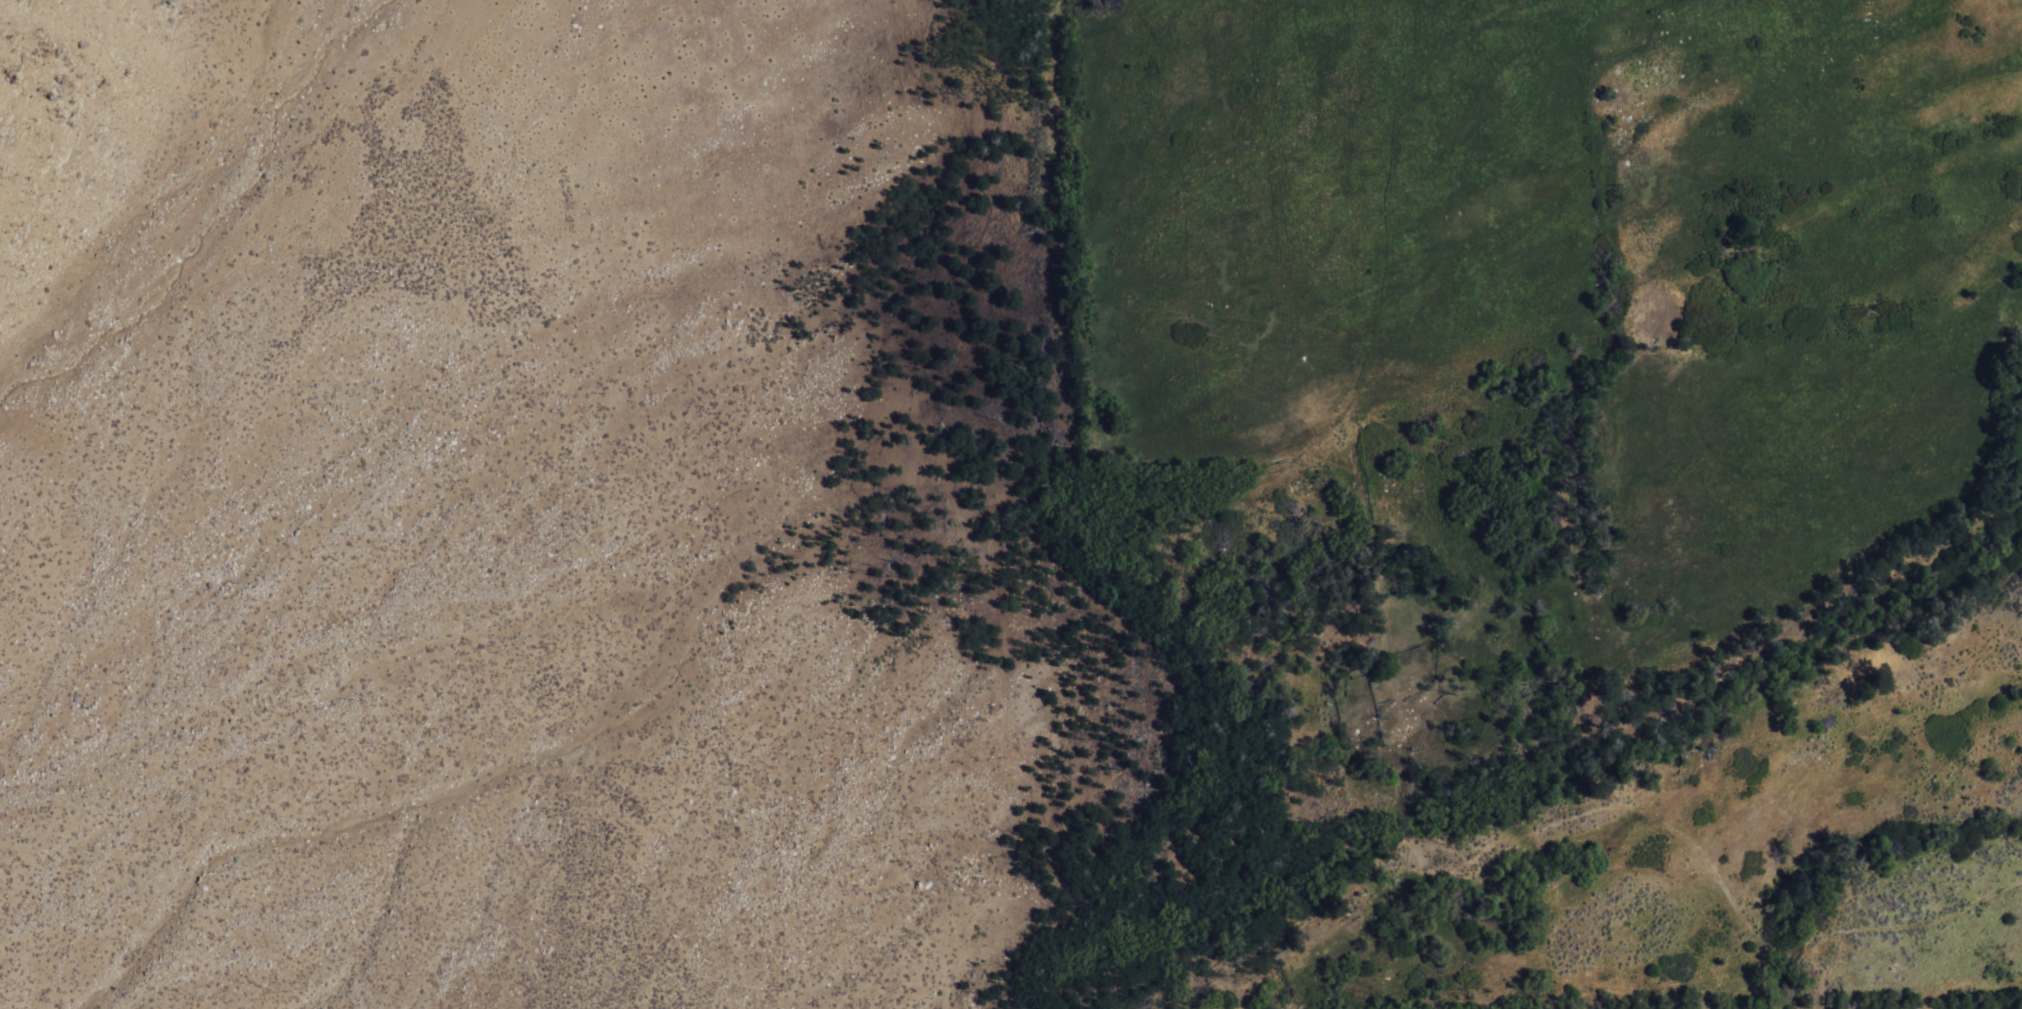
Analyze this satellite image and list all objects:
road: (1938, 925)

